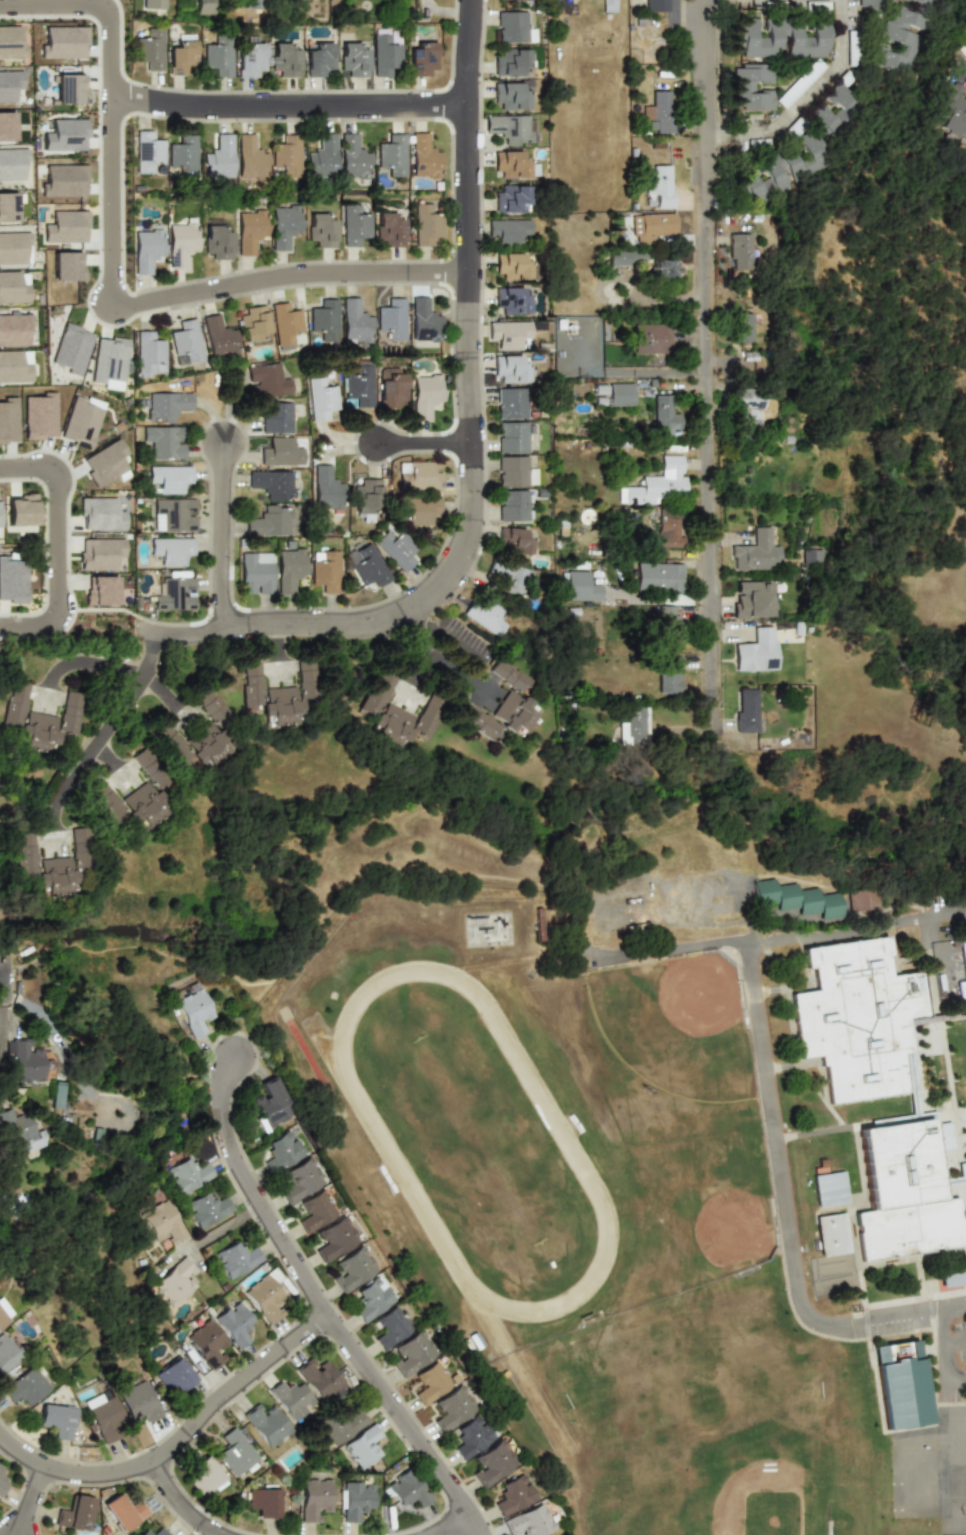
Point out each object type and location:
building: (498, 0)
building: (252, 3)
building: (873, 3)
building: (923, 3)
building: (153, 4)
building: (606, 5)
building: (655, 5)
building: (202, 6)
building: (560, 7)
building: (512, 27)
building: (781, 38)
building: (897, 40)
building: (10, 41)
building: (63, 42)
building: (963, 44)
building: (150, 49)
building: (386, 52)
building: (182, 54)
building: (219, 55)
building: (421, 57)
building: (249, 59)
building: (319, 59)
building: (285, 60)
building: (354, 60)
building: (510, 63)
road: (960, 72)
building: (9, 84)
building: (752, 87)
building: (69, 88)
building: (511, 94)
road: (804, 100)
road: (287, 105)
road: (110, 107)
building: (951, 111)
building: (659, 112)
building: (818, 112)
building: (7, 125)
building: (512, 128)
building: (65, 135)
building: (148, 153)
building: (322, 153)
building: (286, 155)
building: (353, 155)
building: (392, 155)
building: (182, 156)
building: (219, 157)
building: (250, 157)
building: (424, 157)
building: (513, 164)
building: (782, 167)
building: (63, 180)
building: (662, 186)
building: (510, 199)
building: (7, 207)
building: (284, 224)
building: (426, 224)
building: (354, 225)
building: (657, 225)
building: (65, 227)
building: (390, 229)
building: (250, 230)
building: (321, 230)
building: (509, 230)
building: (218, 242)
building: (182, 243)
building: (13, 247)
building: (147, 249)
building: (739, 251)
building: (625, 257)
building: (66, 265)
building: (513, 266)
building: (666, 271)
road: (287, 276)
building: (13, 287)
building: (511, 300)
building: (391, 318)
building: (324, 319)
building: (424, 320)
building: (355, 321)
building: (253, 323)
building: (286, 325)
building: (741, 327)
building: (13, 329)
building: (509, 333)
building: (218, 336)
building: (652, 337)
building: (187, 340)
building: (71, 348)
building: (149, 354)
building: (107, 362)
building: (14, 366)
road: (704, 367)
building: (510, 368)
building: (266, 380)
building: (357, 385)
building: (393, 391)
building: (425, 394)
building: (620, 395)
building: (320, 398)
building: (512, 402)
building: (167, 405)
building: (745, 409)
building: (39, 415)
building: (276, 417)
building: (663, 417)
building: (8, 420)
building: (80, 420)
building: (512, 436)
building: (164, 441)
road: (422, 444)
road: (469, 449)
building: (280, 452)
building: (104, 463)
building: (516, 472)
building: (417, 475)
building: (169, 478)
building: (661, 481)
building: (271, 483)
building: (326, 488)
building: (366, 497)
building: (514, 505)
building: (419, 509)
building: (175, 513)
building: (100, 514)
building: (267, 522)
road: (56, 529)
building: (669, 531)
building: (514, 540)
road: (230, 542)
building: (395, 548)
building: (172, 550)
building: (755, 552)
building: (100, 553)
building: (811, 556)
building: (366, 565)
building: (289, 569)
building: (324, 570)
building: (257, 573)
building: (510, 575)
building: (659, 577)
building: (12, 580)
building: (581, 586)
building: (100, 591)
building: (176, 592)
building: (752, 598)
building: (488, 613)
building: (666, 619)
road: (14, 623)
building: (672, 633)
road: (158, 647)
road: (283, 649)
building: (756, 651)
road: (435, 654)
road: (119, 668)
building: (669, 673)
building: (489, 692)
building: (278, 693)
building: (505, 706)
building: (746, 710)
building: (393, 713)
building: (38, 719)
building: (635, 726)
building: (198, 736)
road: (99, 743)
building: (148, 768)
building: (127, 805)
building: (53, 864)
building: (797, 898)
road: (854, 925)
road: (936, 941)
building: (962, 956)
road: (0, 980)
building: (192, 1008)
building: (852, 1018)
road: (755, 1019)
building: (24, 1060)
building: (56, 1094)
building: (272, 1104)
track: (371, 1124)
road: (818, 1131)
building: (20, 1132)
park: (473, 1141)
building: (282, 1151)
building: (963, 1172)
building: (187, 1175)
building: (300, 1180)
building: (828, 1187)
road: (251, 1189)
building: (904, 1194)
building: (206, 1208)
building: (316, 1211)
building: (163, 1223)
building: (830, 1233)
building: (335, 1238)
building: (236, 1258)
building: (353, 1269)
building: (952, 1279)
building: (174, 1281)
building: (265, 1296)
building: (371, 1299)
building: (3, 1317)
building: (234, 1323)
building: (390, 1327)
road: (944, 1335)
parking lot: (961, 1338)
building: (206, 1343)
road: (955, 1343)
building: (6, 1353)
building: (412, 1353)
building: (174, 1374)
building: (320, 1378)
road: (963, 1379)
building: (901, 1380)
building: (433, 1382)
building: (25, 1386)
building: (291, 1398)
building: (138, 1401)
building: (453, 1408)
building: (104, 1415)
building: (57, 1419)
building: (266, 1424)
building: (339, 1424)
road: (399, 1424)
building: (471, 1436)
road: (175, 1441)
building: (364, 1445)
building: (235, 1452)
building: (493, 1463)
building: (0, 1466)
building: (205, 1476)
building: (1, 1482)
building: (406, 1489)
building: (513, 1495)
road: (24, 1498)
building: (314, 1498)
building: (354, 1500)
building: (262, 1501)
road: (179, 1503)
building: (75, 1512)
building: (120, 1512)
building: (529, 1521)
road: (449, 1523)
building: (144, 1532)
building: (160, 1532)

